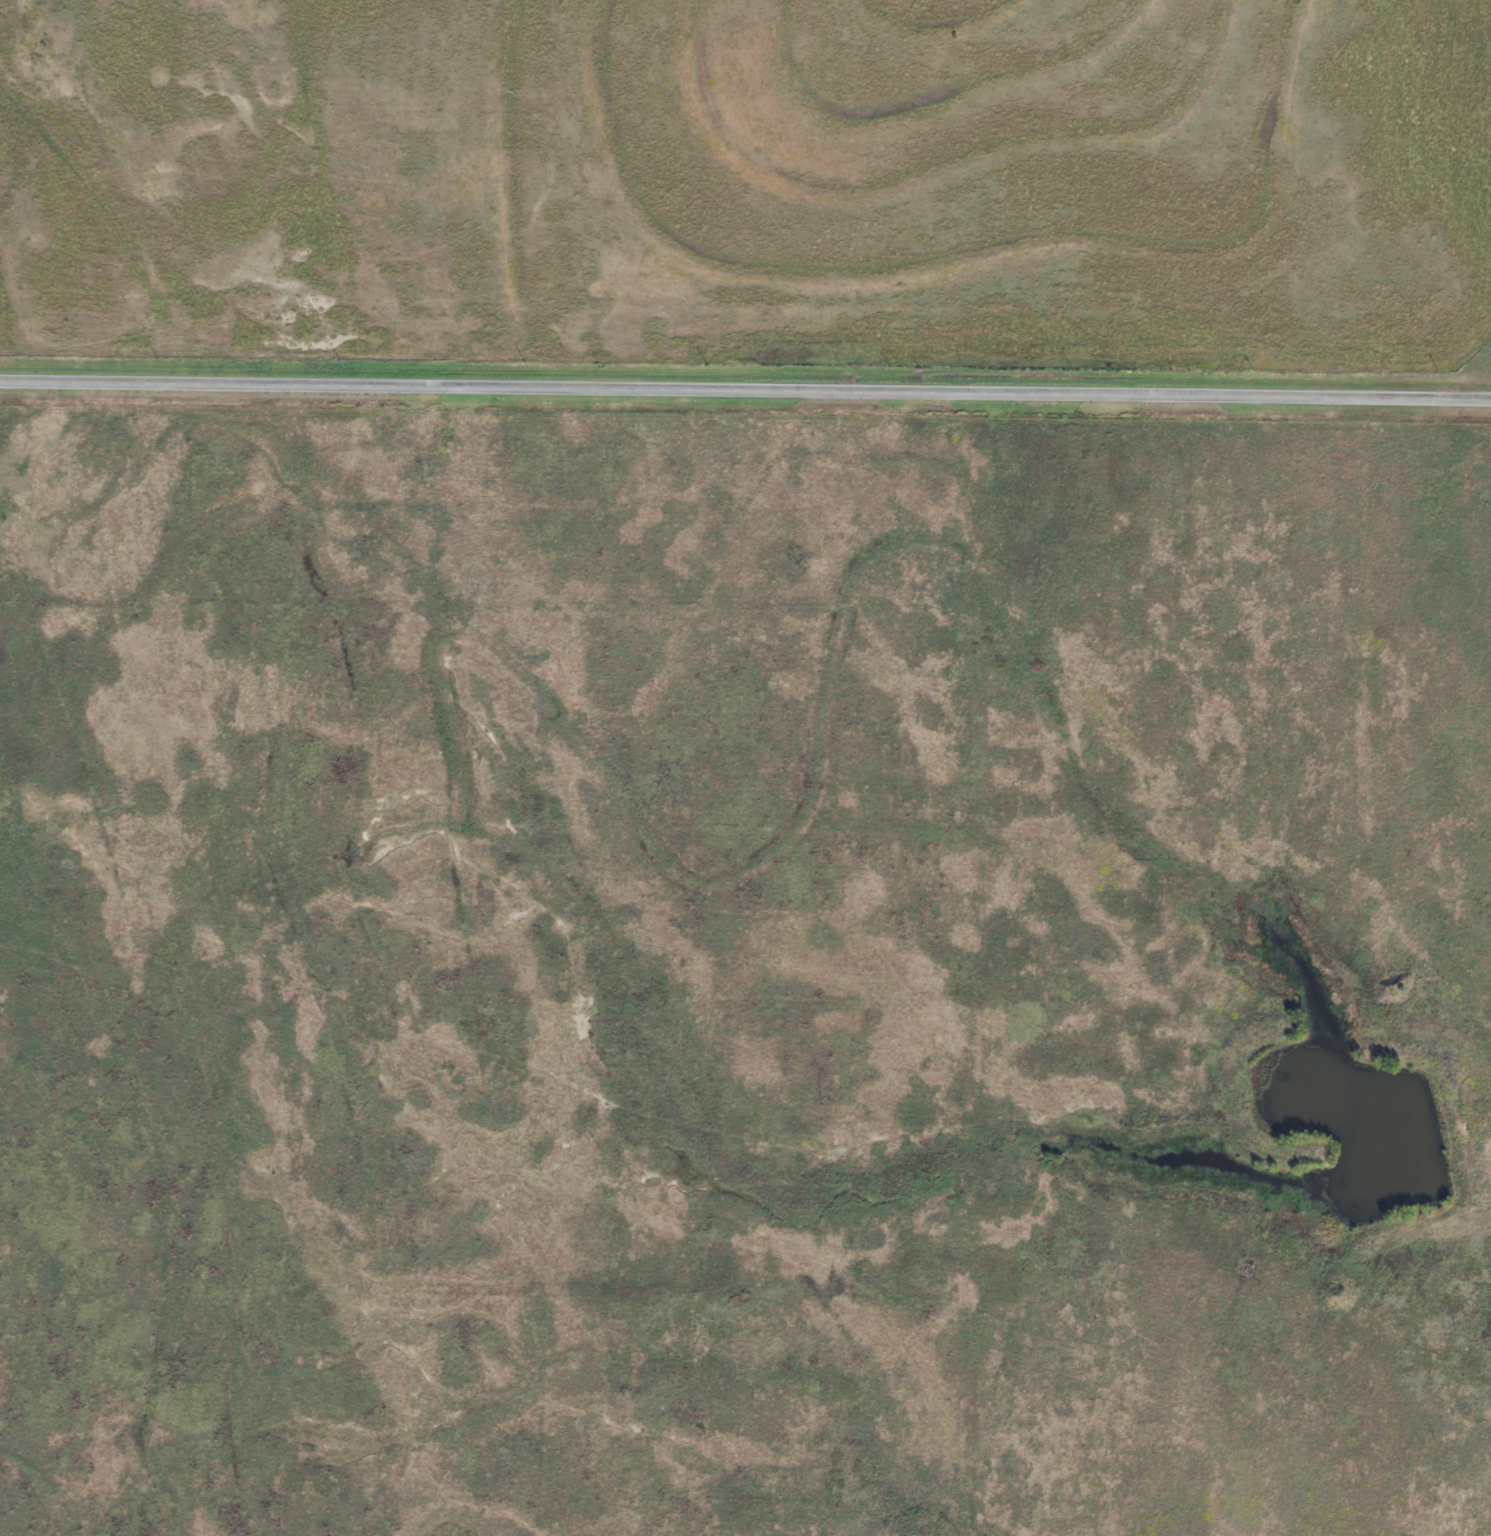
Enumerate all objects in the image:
road: (745, 391)

